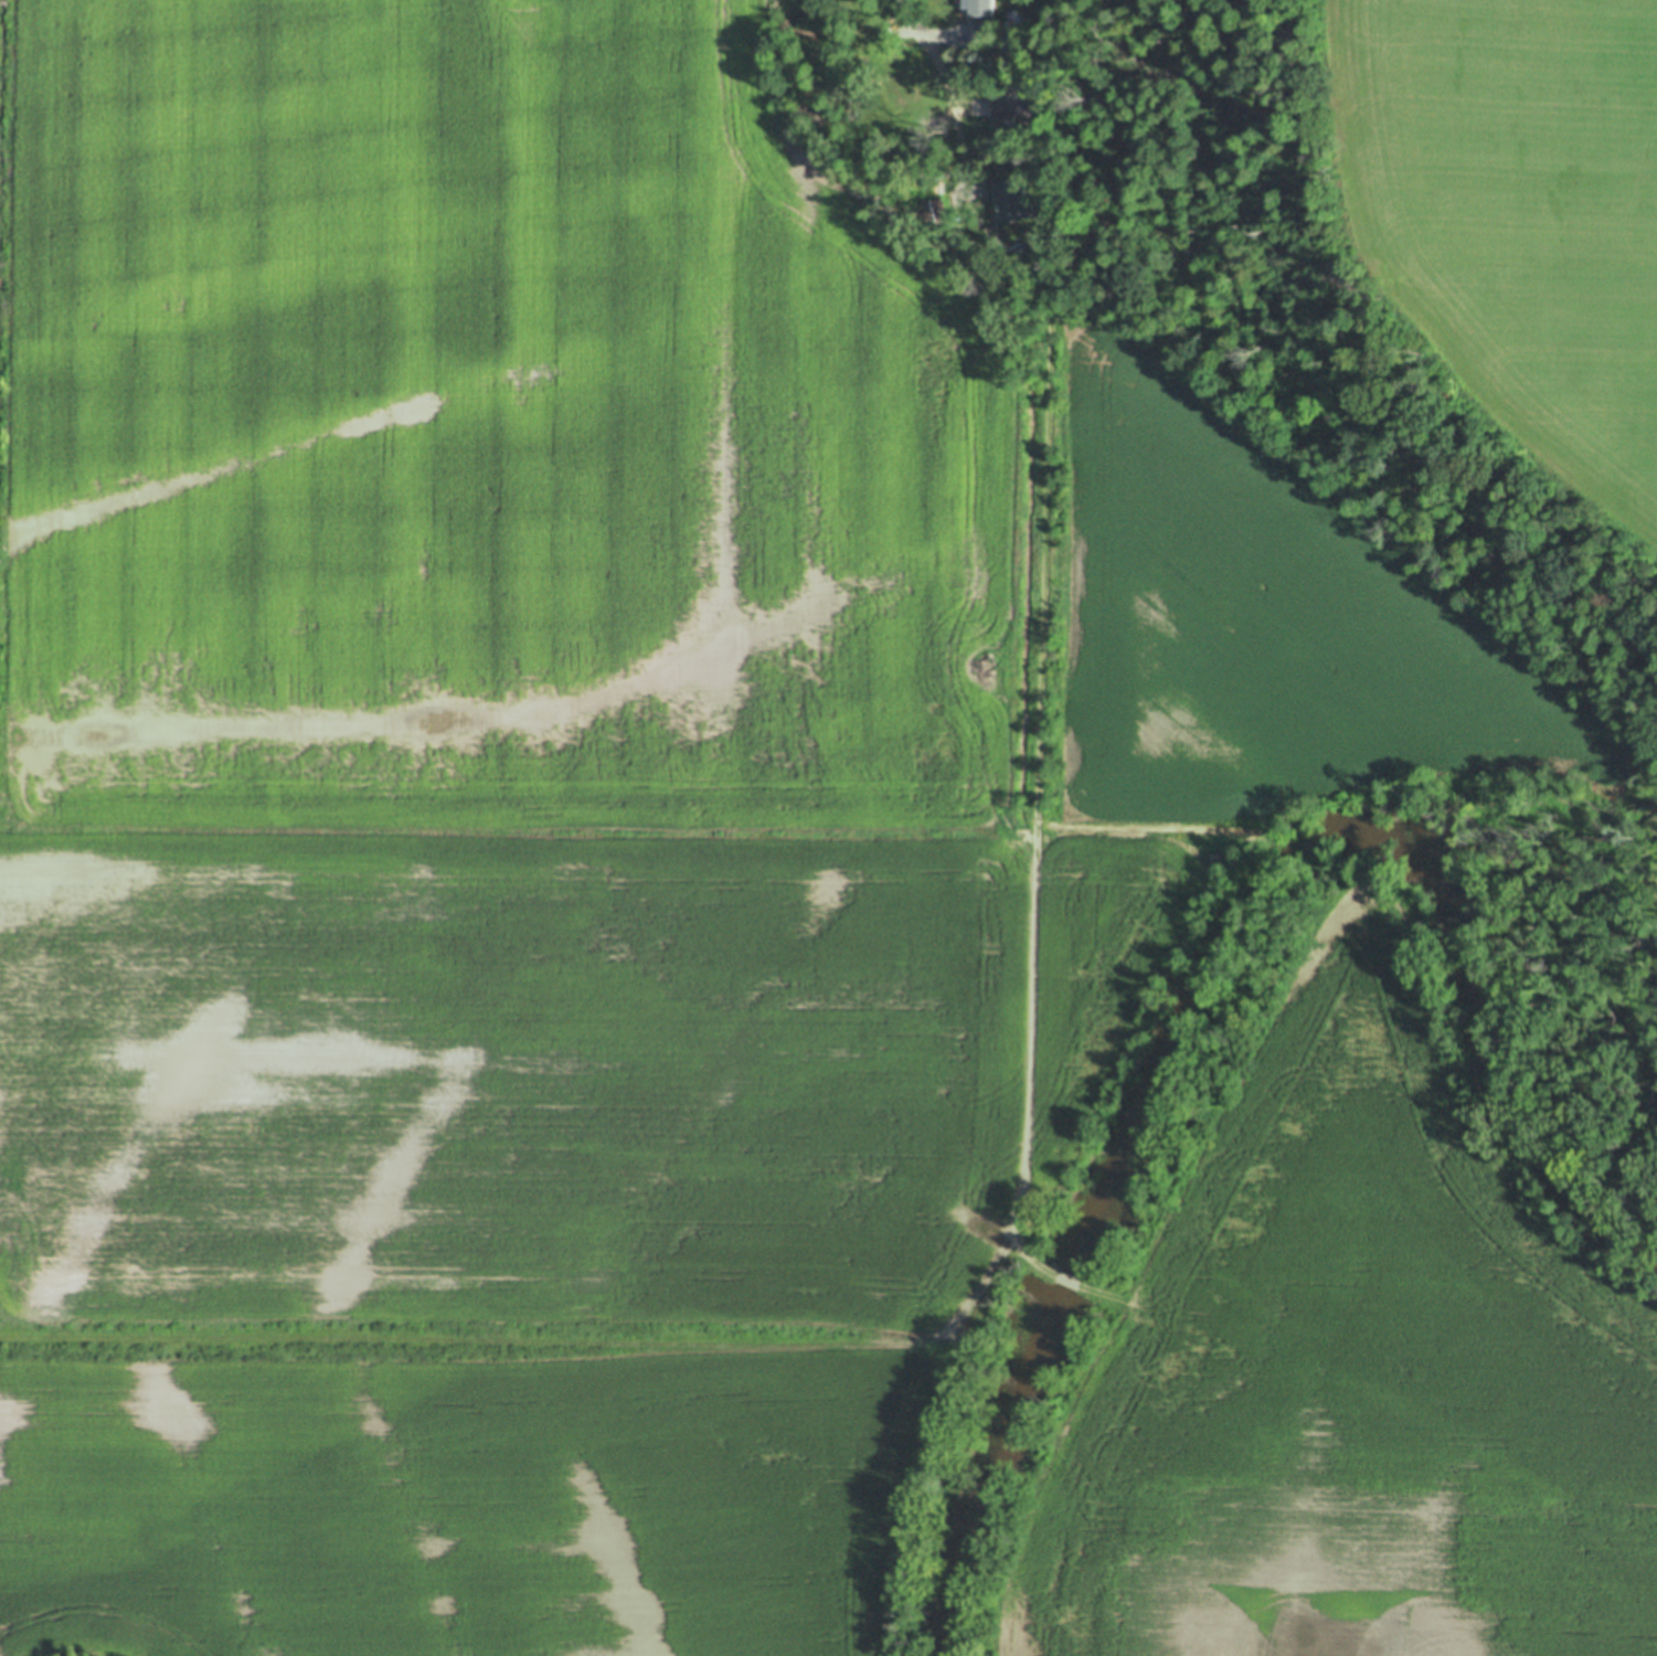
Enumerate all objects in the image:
building: (982, 8)
building: (1016, 20)
building: (984, 28)
road: (944, 86)
building: (1016, 97)
building: (878, 144)
building: (933, 210)
building: (1016, 217)

